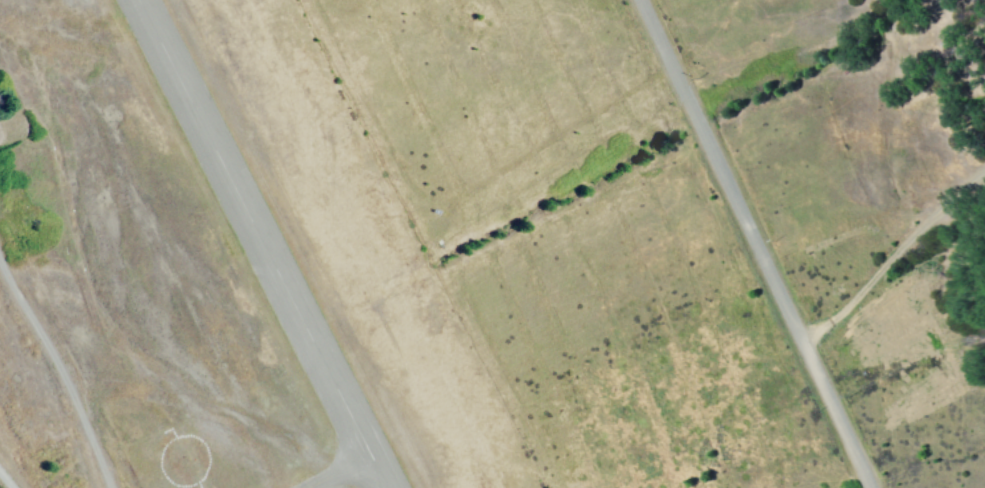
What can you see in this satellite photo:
road: (753, 243)
airport runway: (267, 244)
road: (890, 253)
road: (13, 473)

